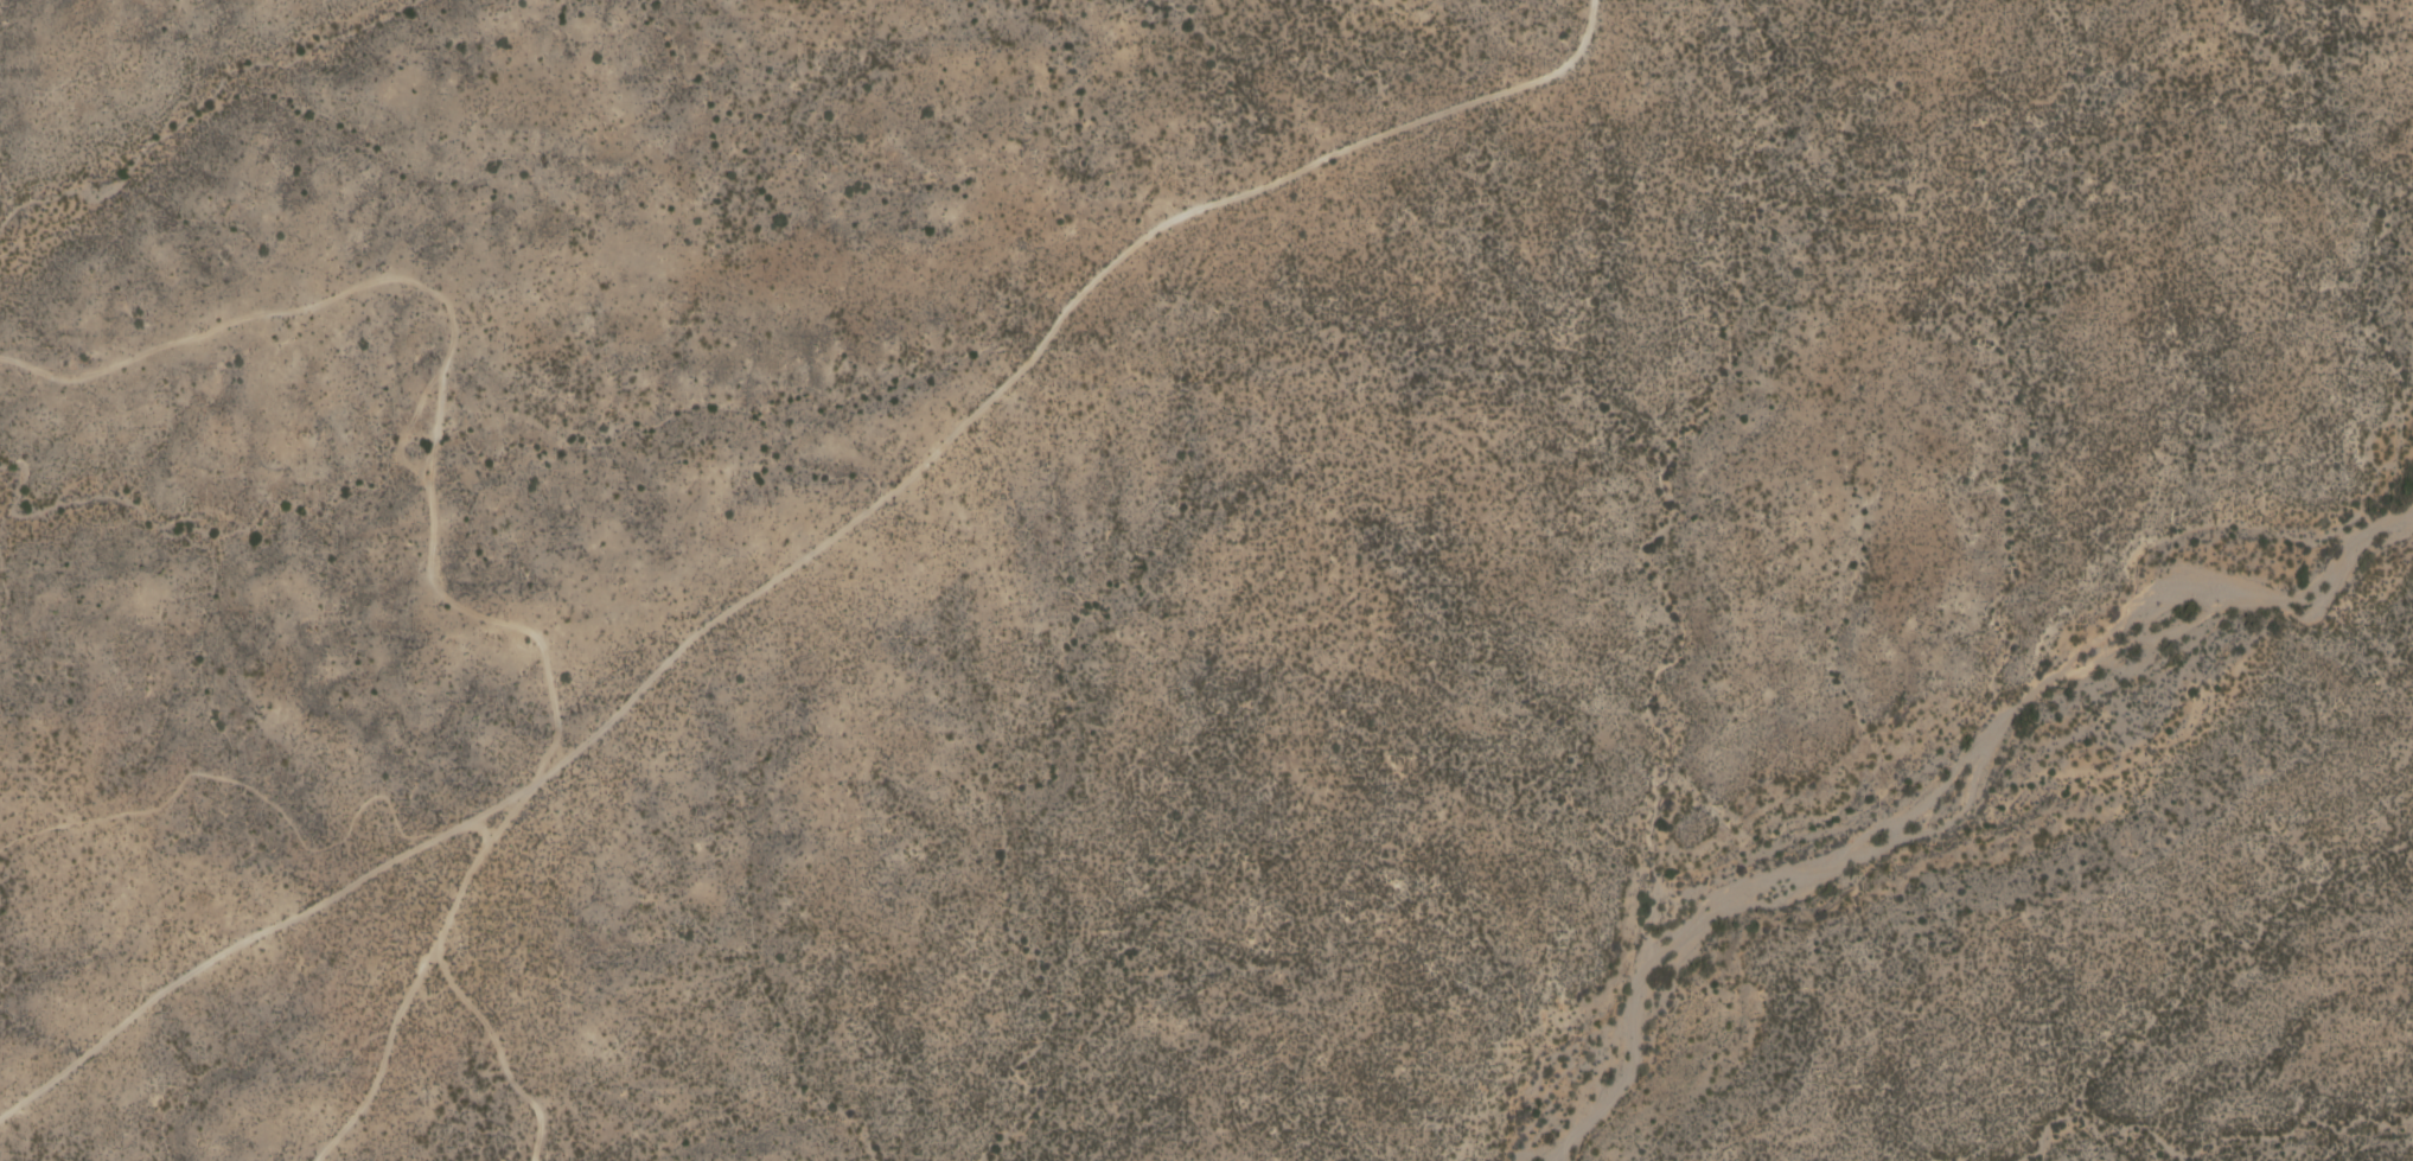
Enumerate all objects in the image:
road: (809, 553)
road: (479, 830)
road: (421, 963)
road: (499, 1055)

